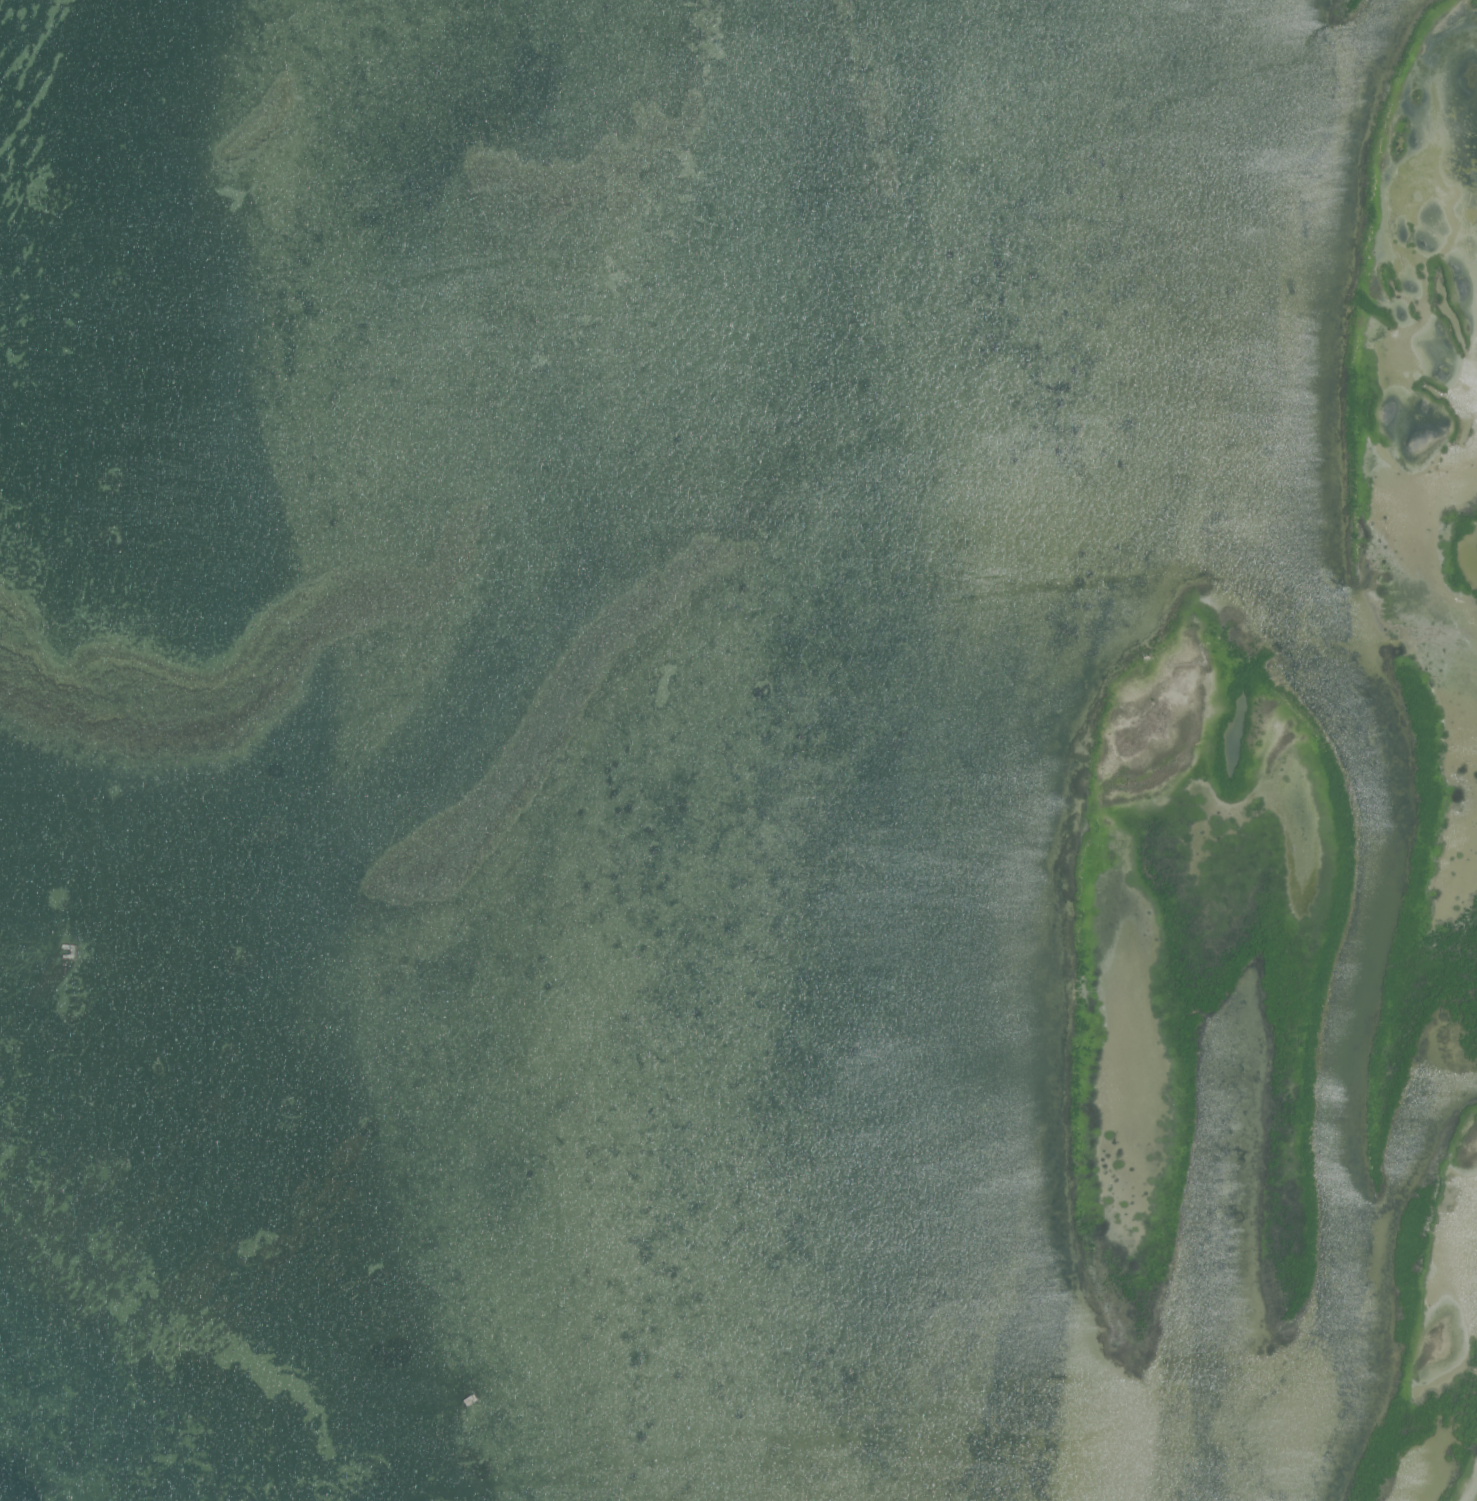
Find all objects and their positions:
park: (1328, 711)

